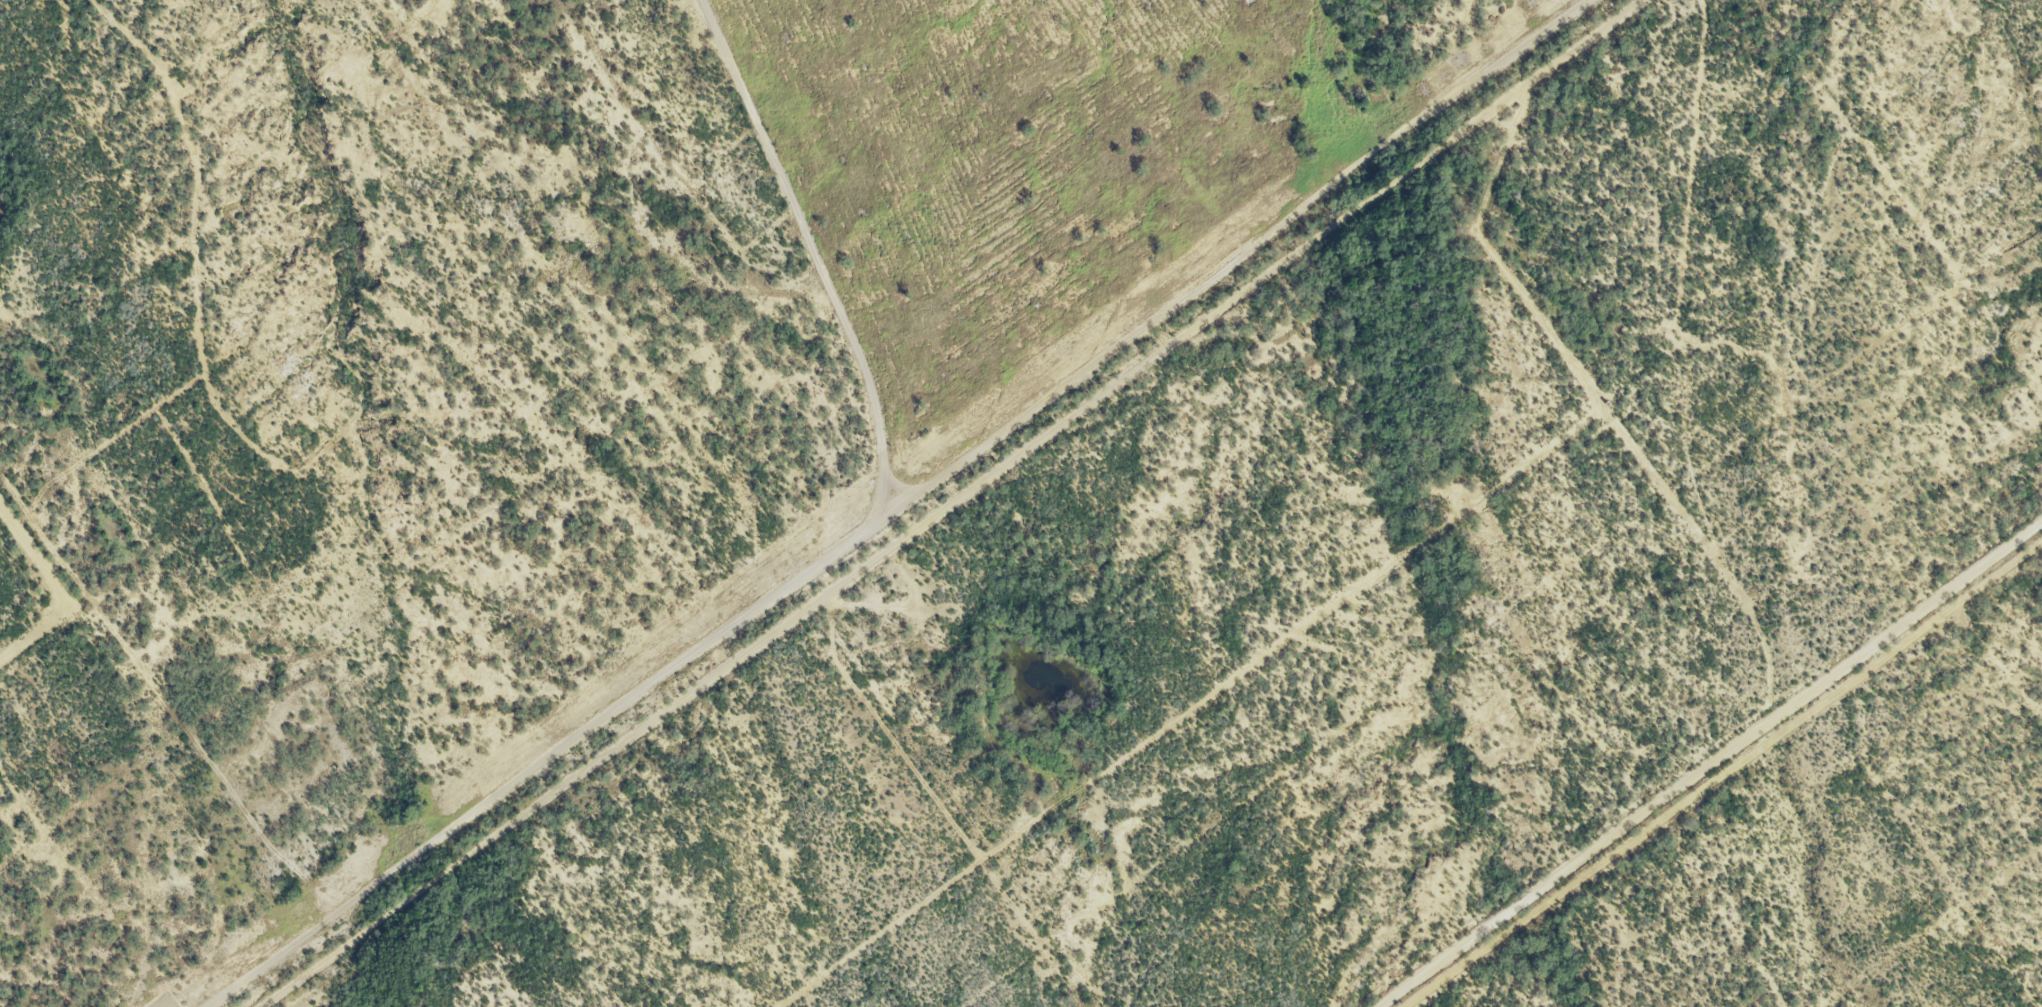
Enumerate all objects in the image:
road: (1008, 500)
road: (864, 503)

